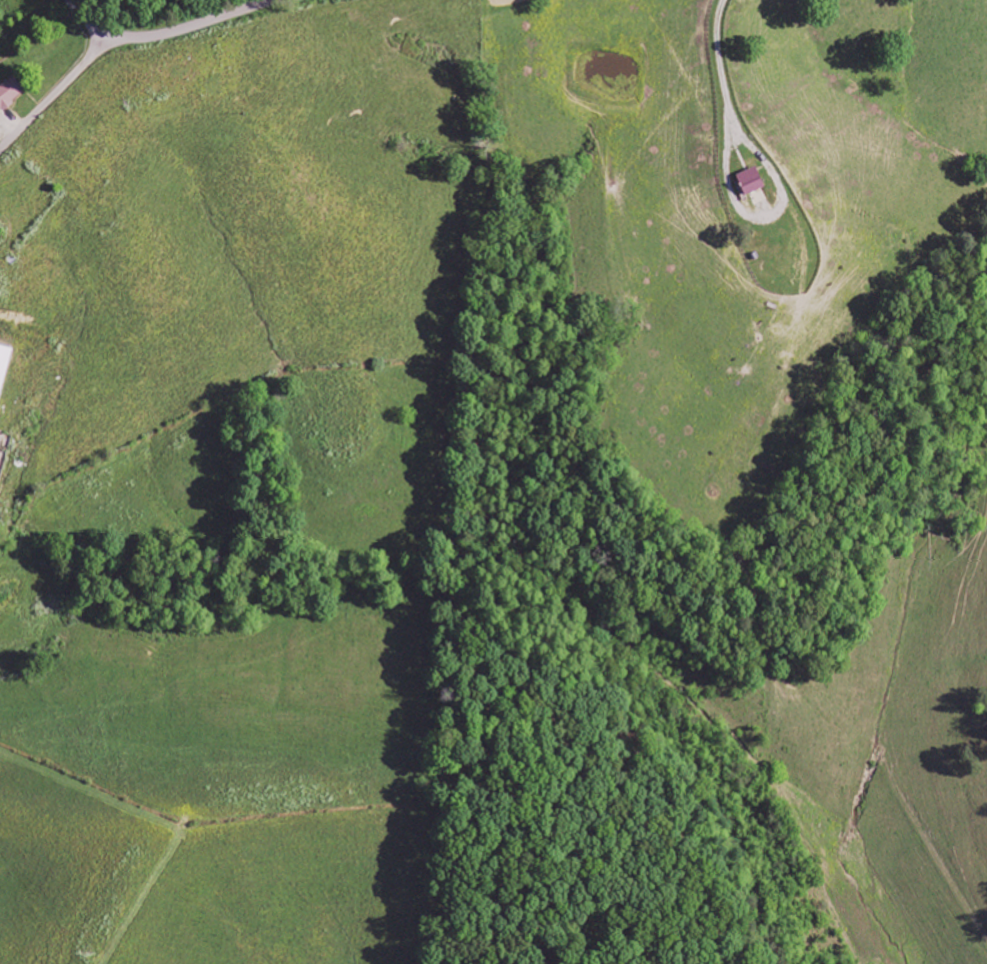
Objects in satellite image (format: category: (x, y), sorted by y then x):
road: (171, 33)
road: (57, 91)
building: (10, 93)
building: (752, 181)

